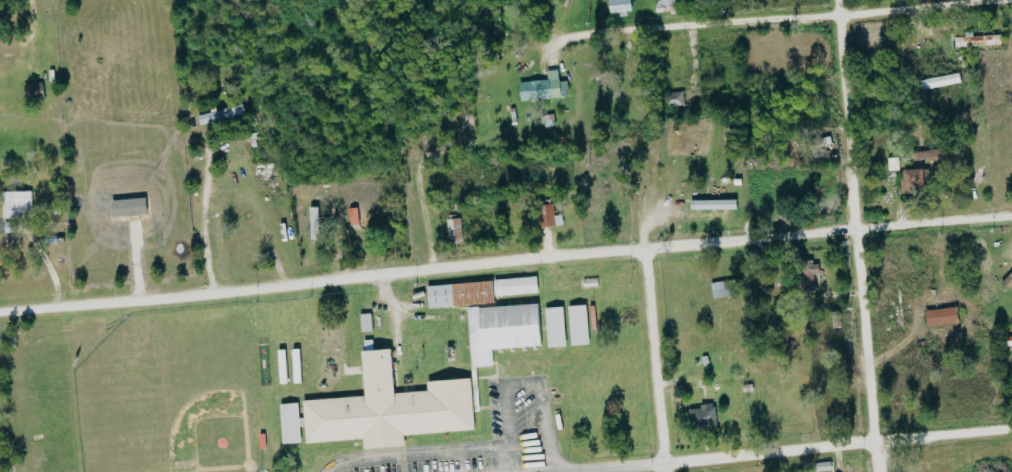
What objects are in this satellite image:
building: (620, 6)
building: (665, 6)
road: (915, 7)
road: (692, 24)
building: (978, 40)
building: (941, 81)
building: (544, 88)
building: (34, 91)
building: (675, 99)
road: (842, 114)
building: (221, 115)
building: (922, 155)
building: (893, 164)
building: (914, 179)
road: (225, 191)
building: (16, 204)
building: (721, 204)
building: (549, 215)
building: (454, 231)
road: (505, 262)
building: (809, 274)
building: (1008, 282)
building: (515, 286)
building: (723, 289)
building: (460, 295)
building: (942, 317)
building: (366, 323)
building: (578, 325)
building: (555, 327)
building: (501, 330)
road: (861, 350)
road: (650, 360)
building: (389, 409)
building: (703, 417)
building: (290, 424)
road: (836, 446)
building: (822, 465)
road: (615, 468)

